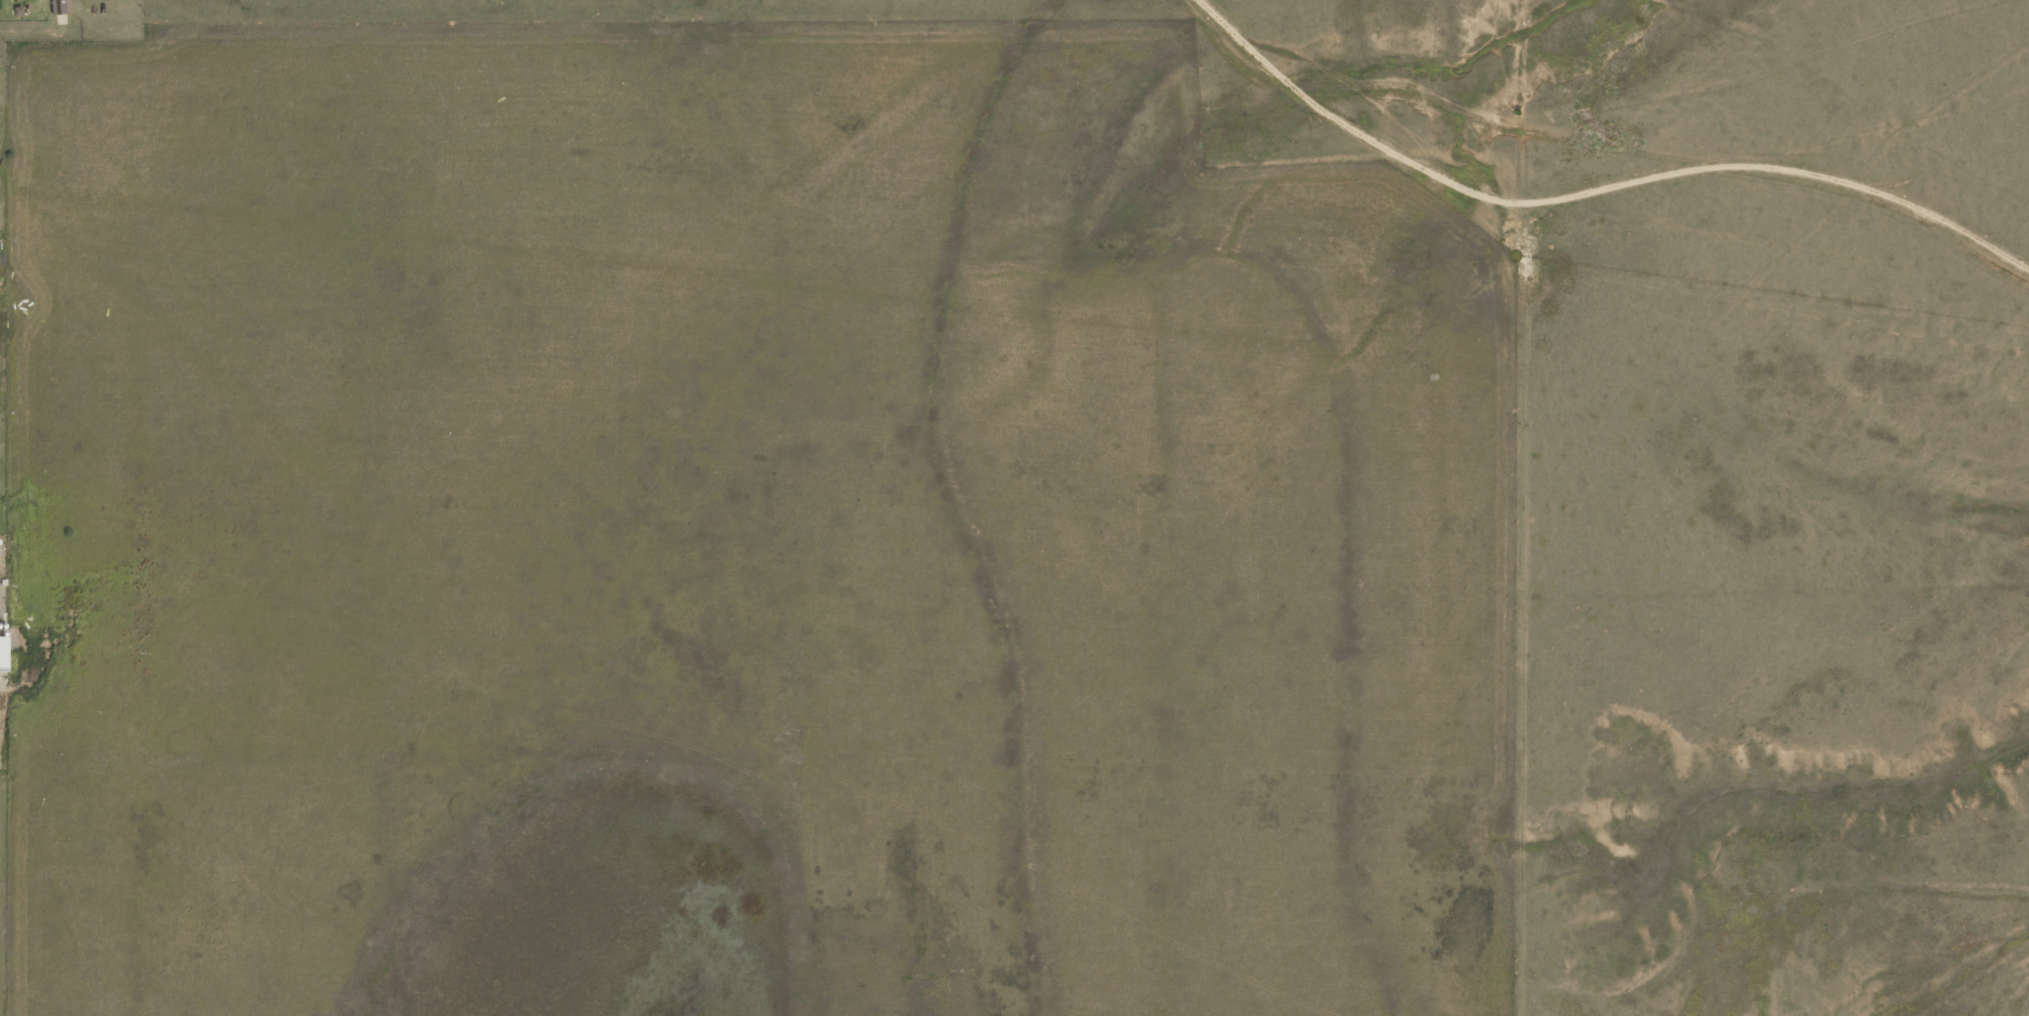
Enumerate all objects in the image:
building: (3, 652)

